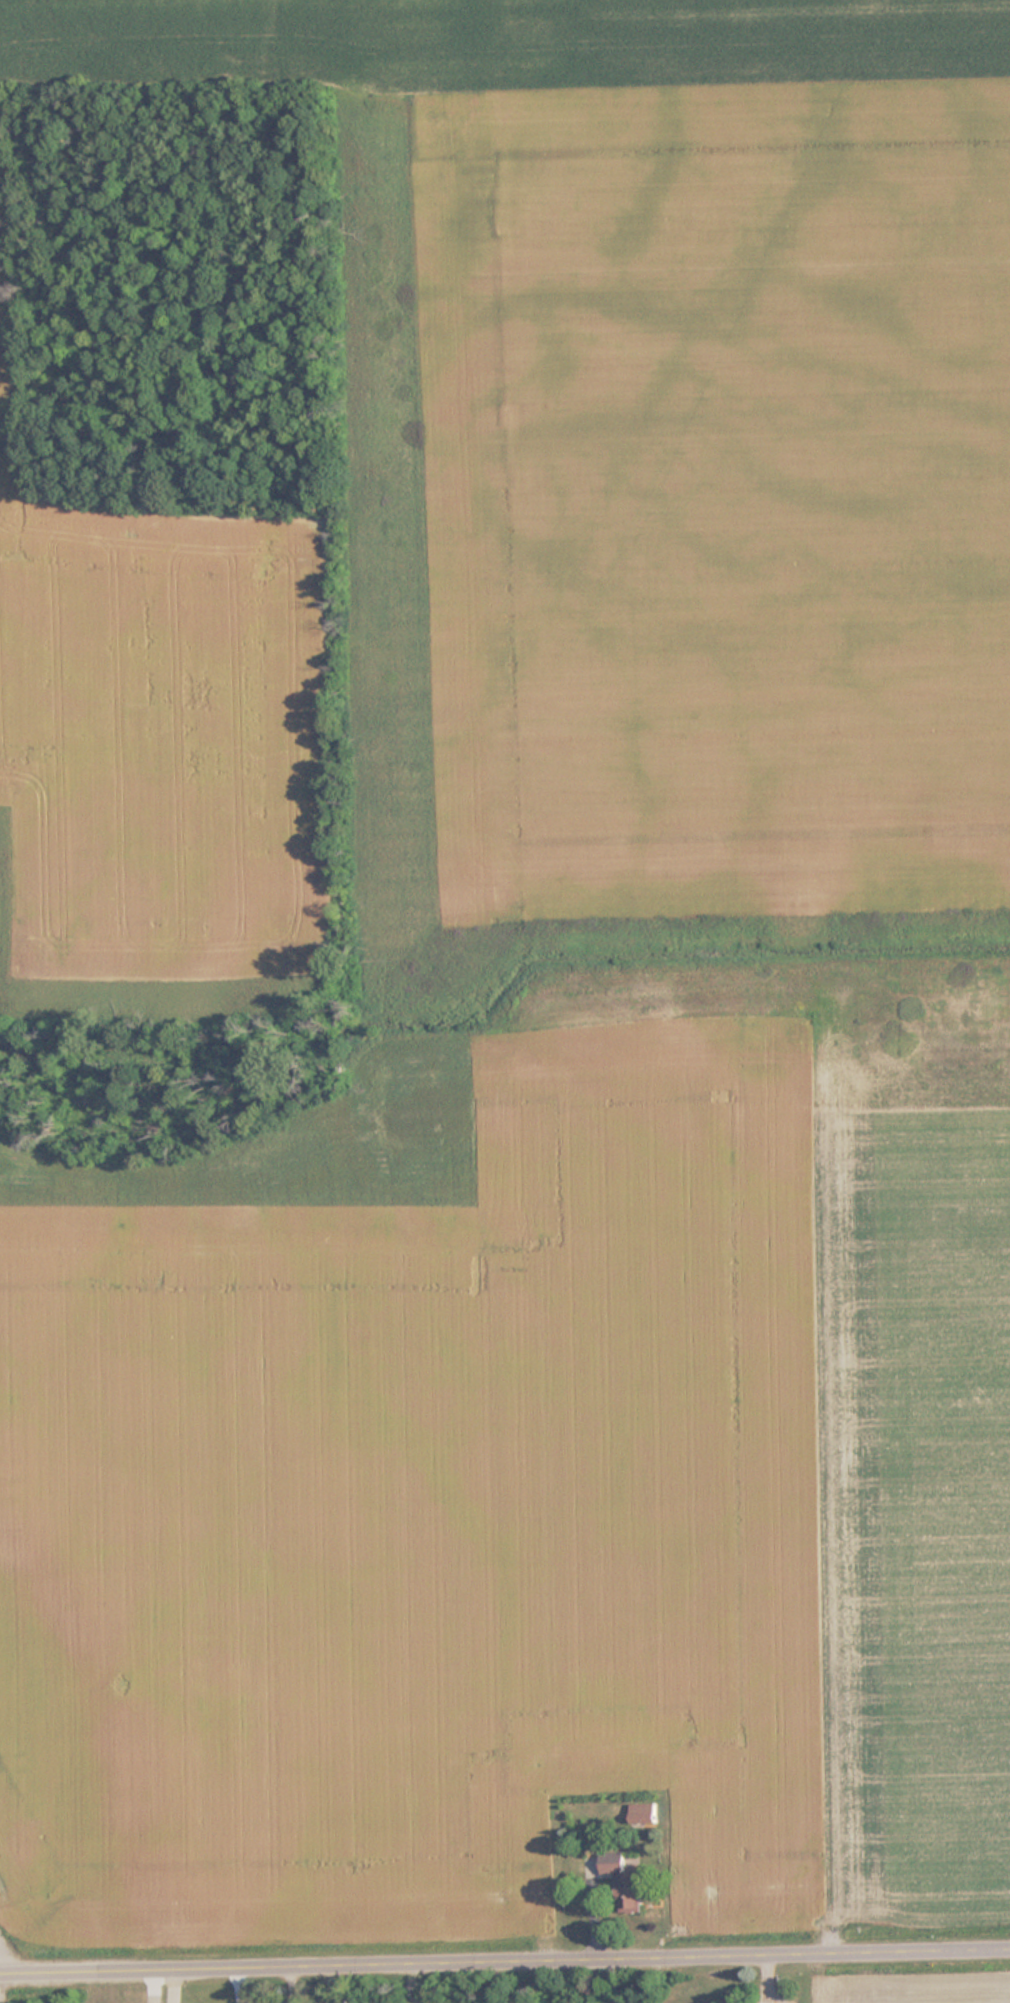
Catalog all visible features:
building: (643, 1814)
building: (624, 1882)
road: (505, 1960)

